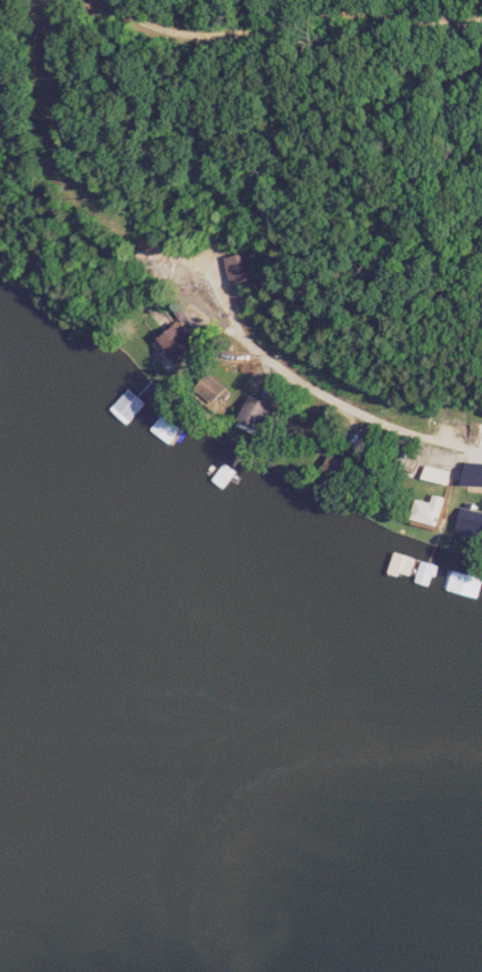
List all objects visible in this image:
road: (302, 20)
building: (245, 269)
building: (182, 344)
road: (332, 393)
building: (132, 406)
building: (262, 412)
building: (165, 429)
building: (337, 466)
building: (477, 474)
building: (435, 511)
building: (472, 522)
building: (380, 551)
river: (176, 856)

